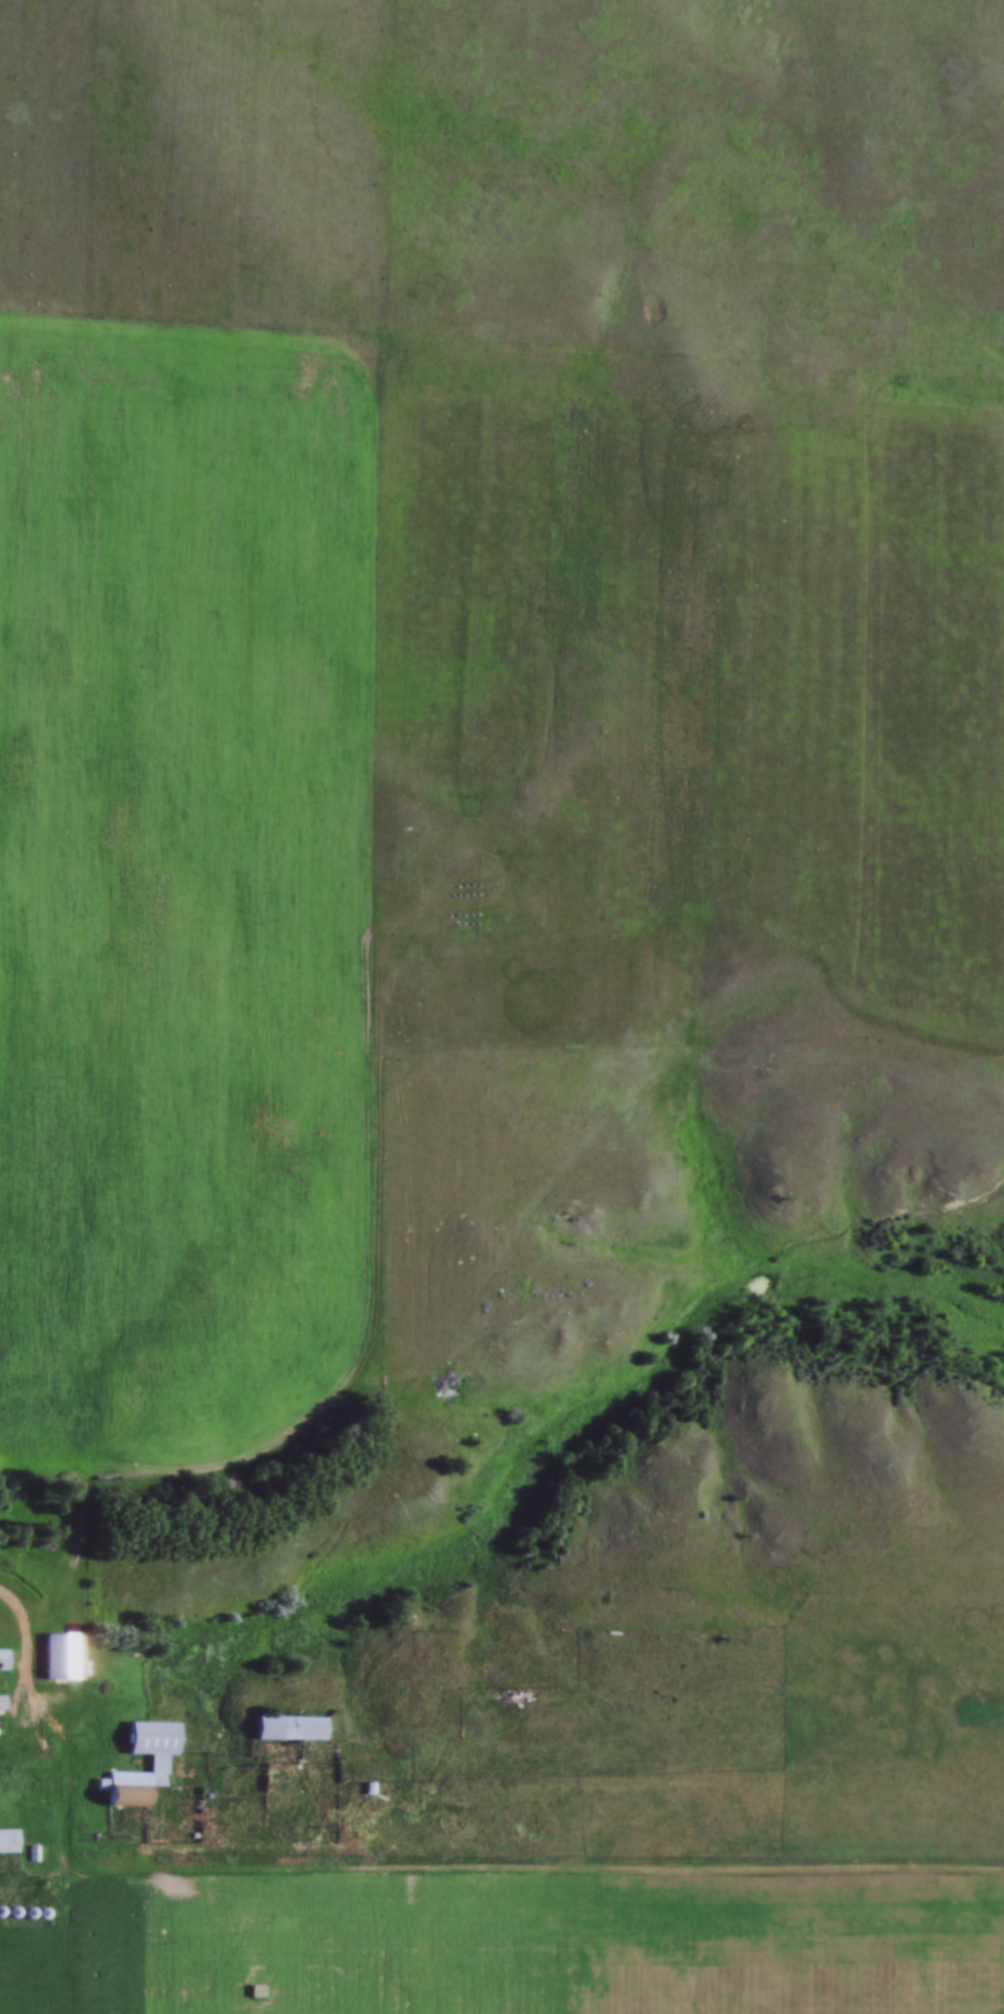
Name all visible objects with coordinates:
road: (28, 1640)
building: (59, 1654)
building: (3, 1657)
building: (1, 1703)
building: (289, 1725)
building: (156, 1761)
building: (8, 1838)
road: (454, 1862)
building: (255, 1988)

